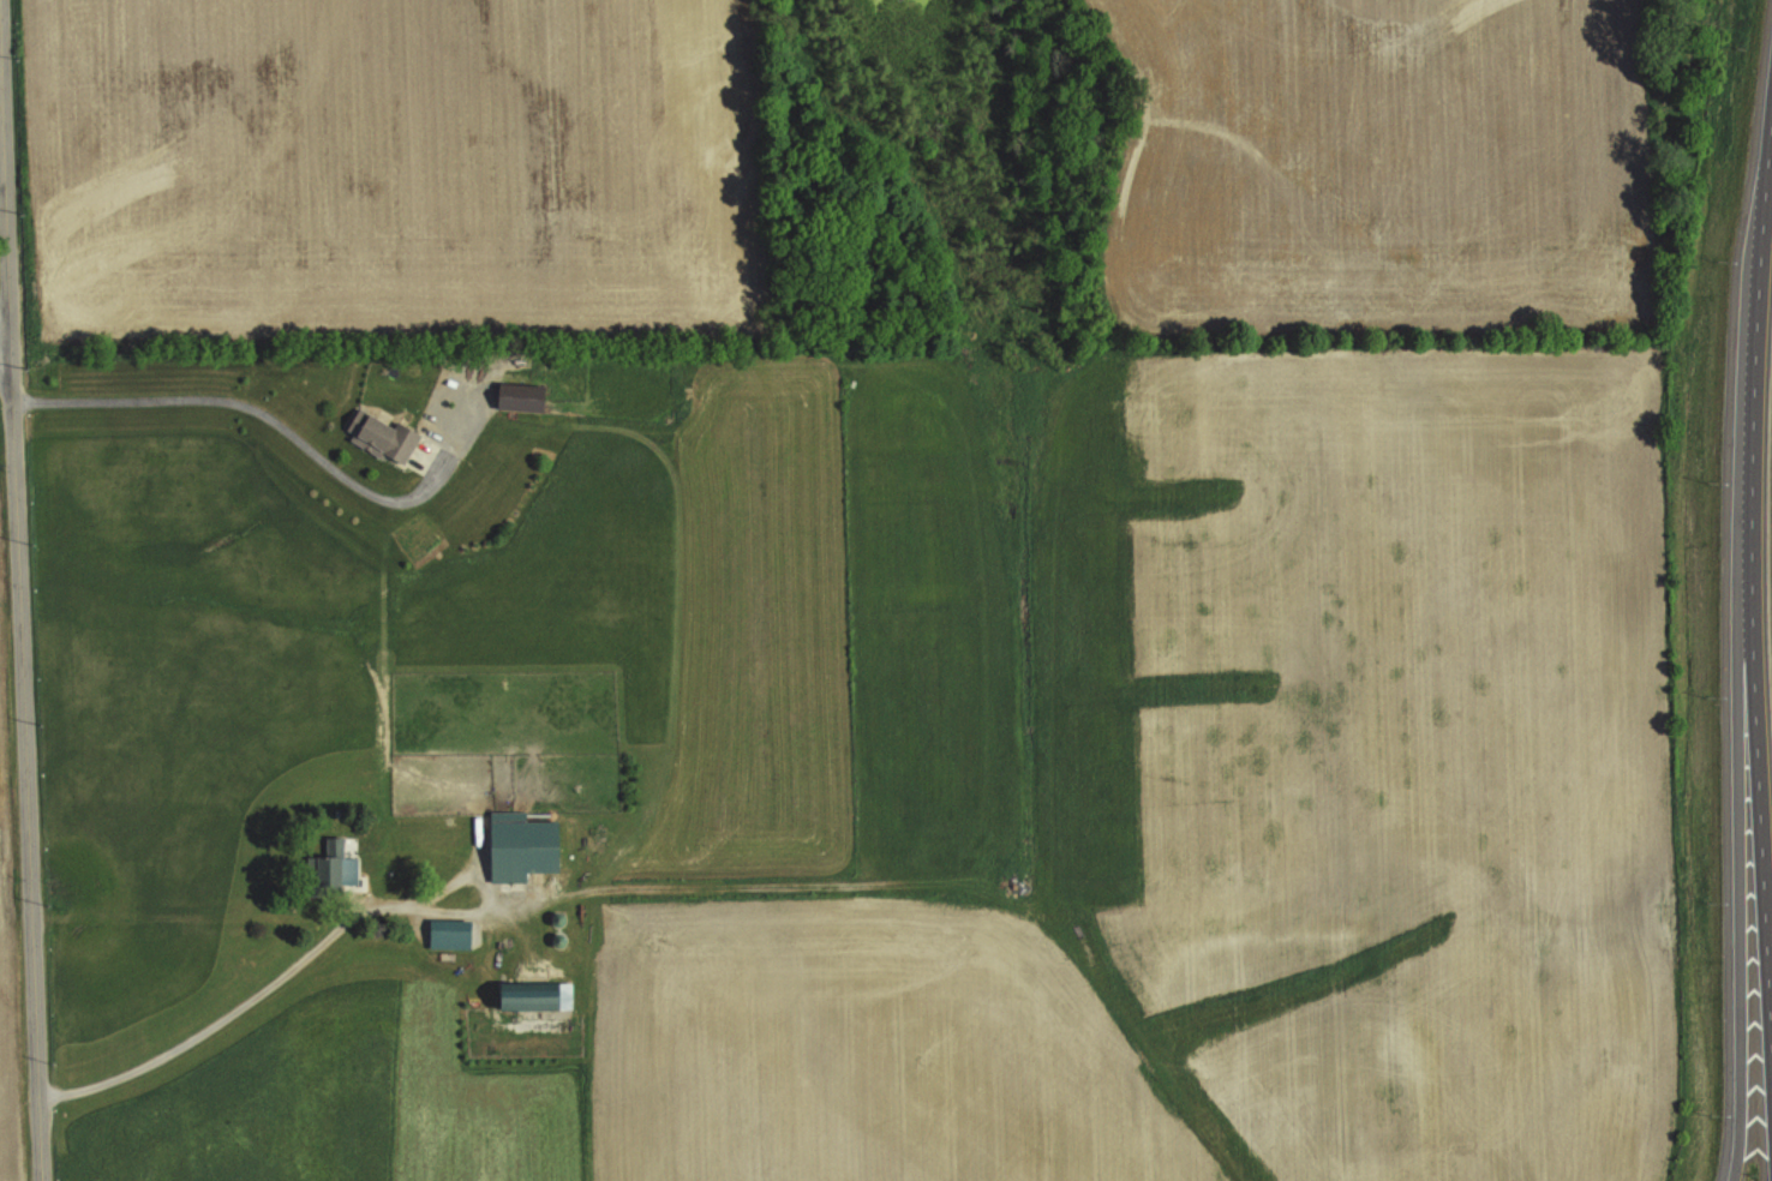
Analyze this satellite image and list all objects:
road: (4, 340)
building: (523, 395)
road: (267, 413)
building: (383, 436)
road: (19, 589)
road: (1750, 639)
building: (523, 846)
building: (336, 863)
road: (1736, 879)
building: (532, 994)
road: (249, 1003)

